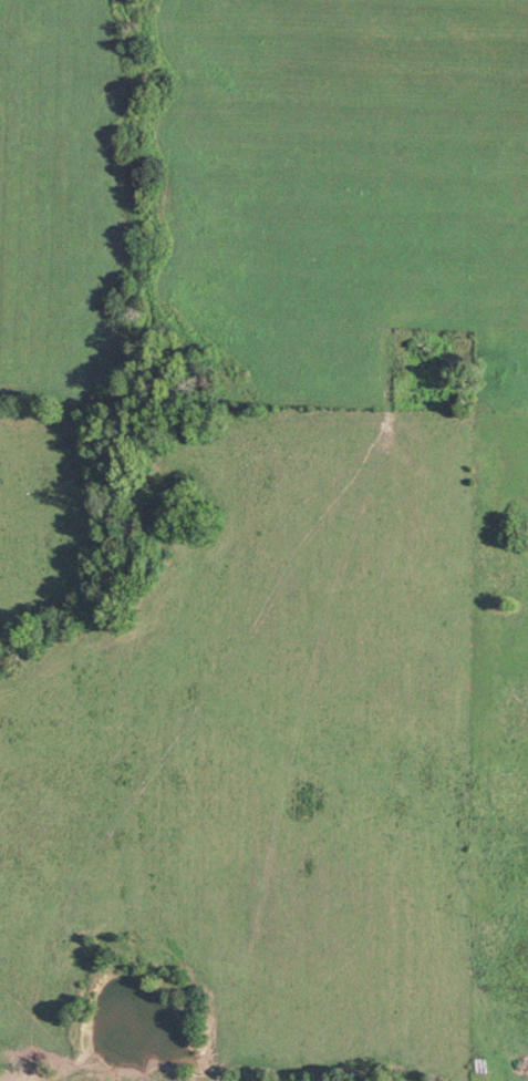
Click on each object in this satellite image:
park: (433, 370)

